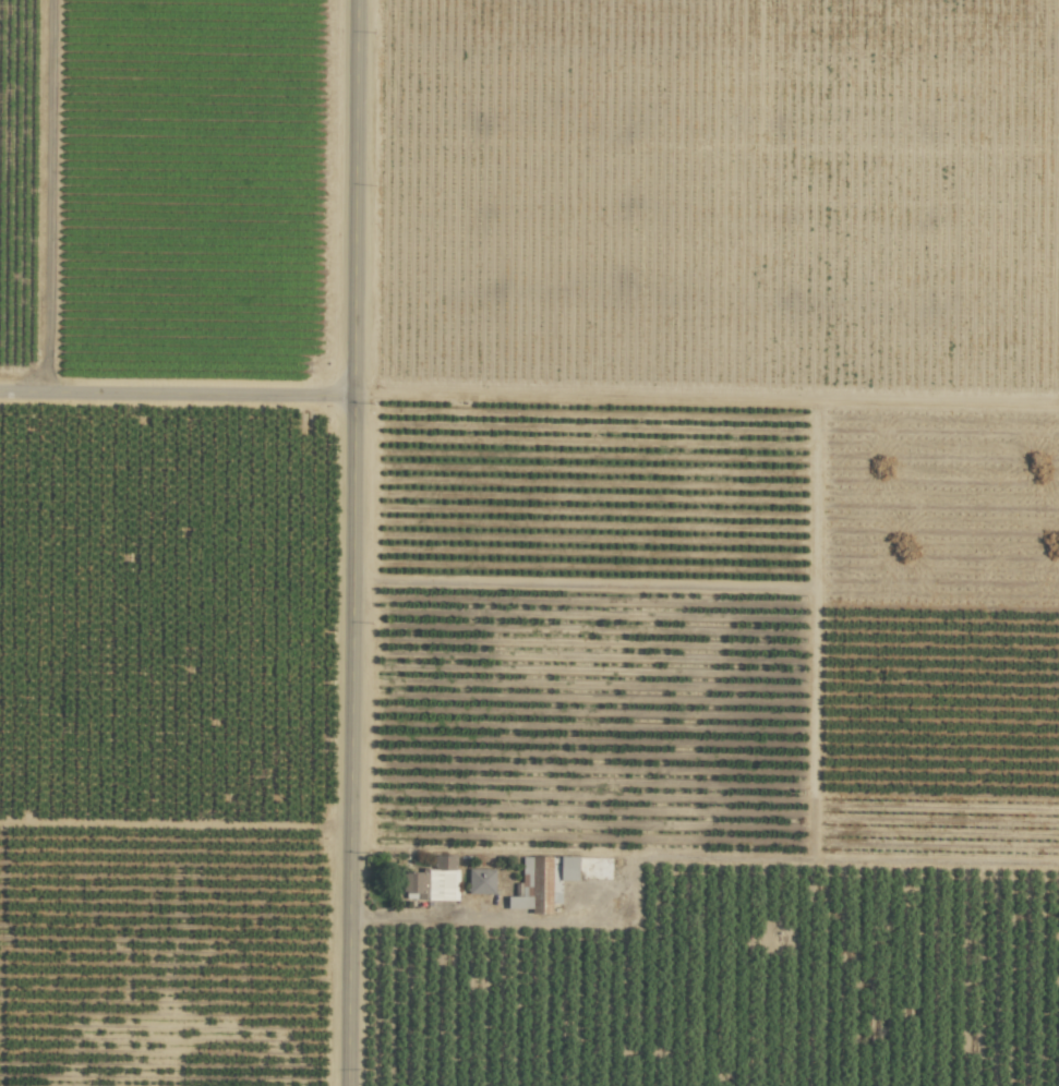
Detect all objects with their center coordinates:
road: (176, 393)
road: (351, 543)
building: (568, 868)
road: (629, 873)
building: (432, 881)
building: (481, 881)

